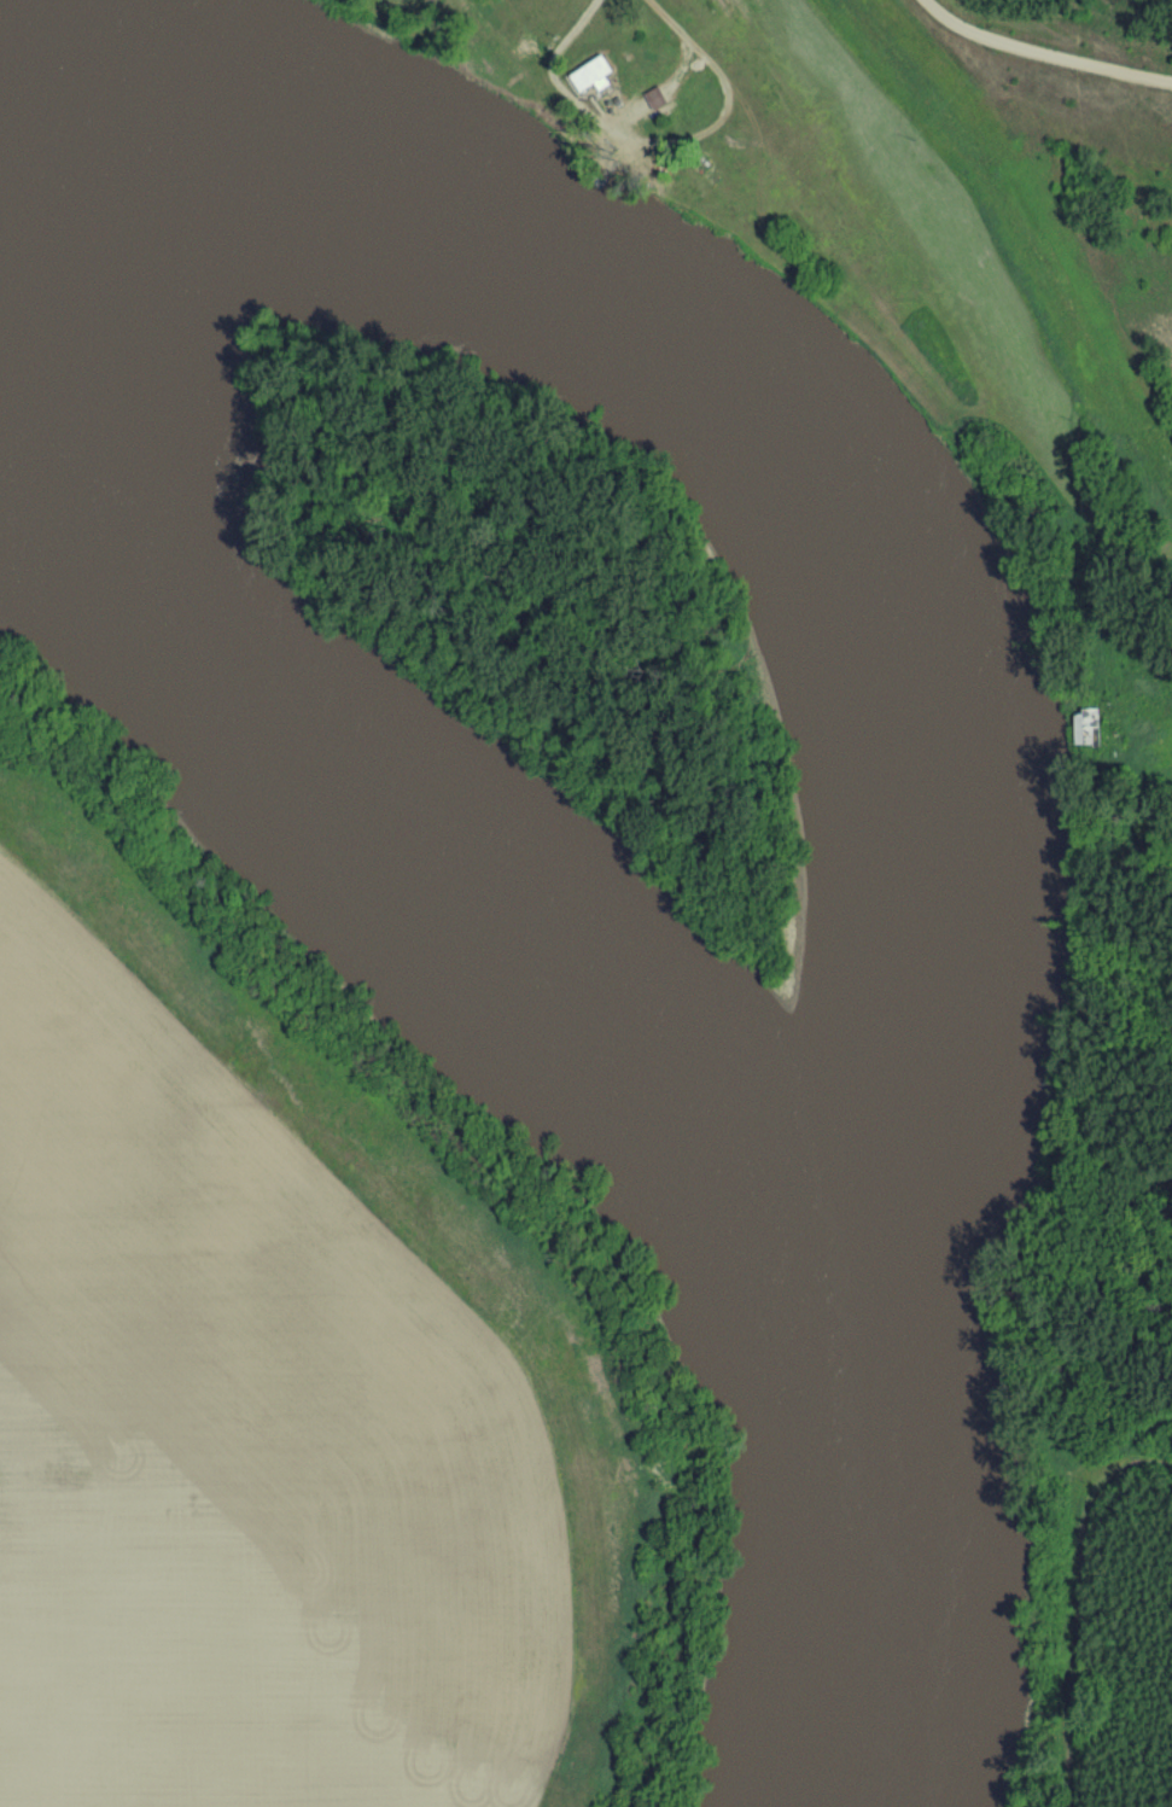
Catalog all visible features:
road: (578, 22)
road: (1045, 56)
building: (597, 72)
building: (658, 94)
river: (675, 845)

